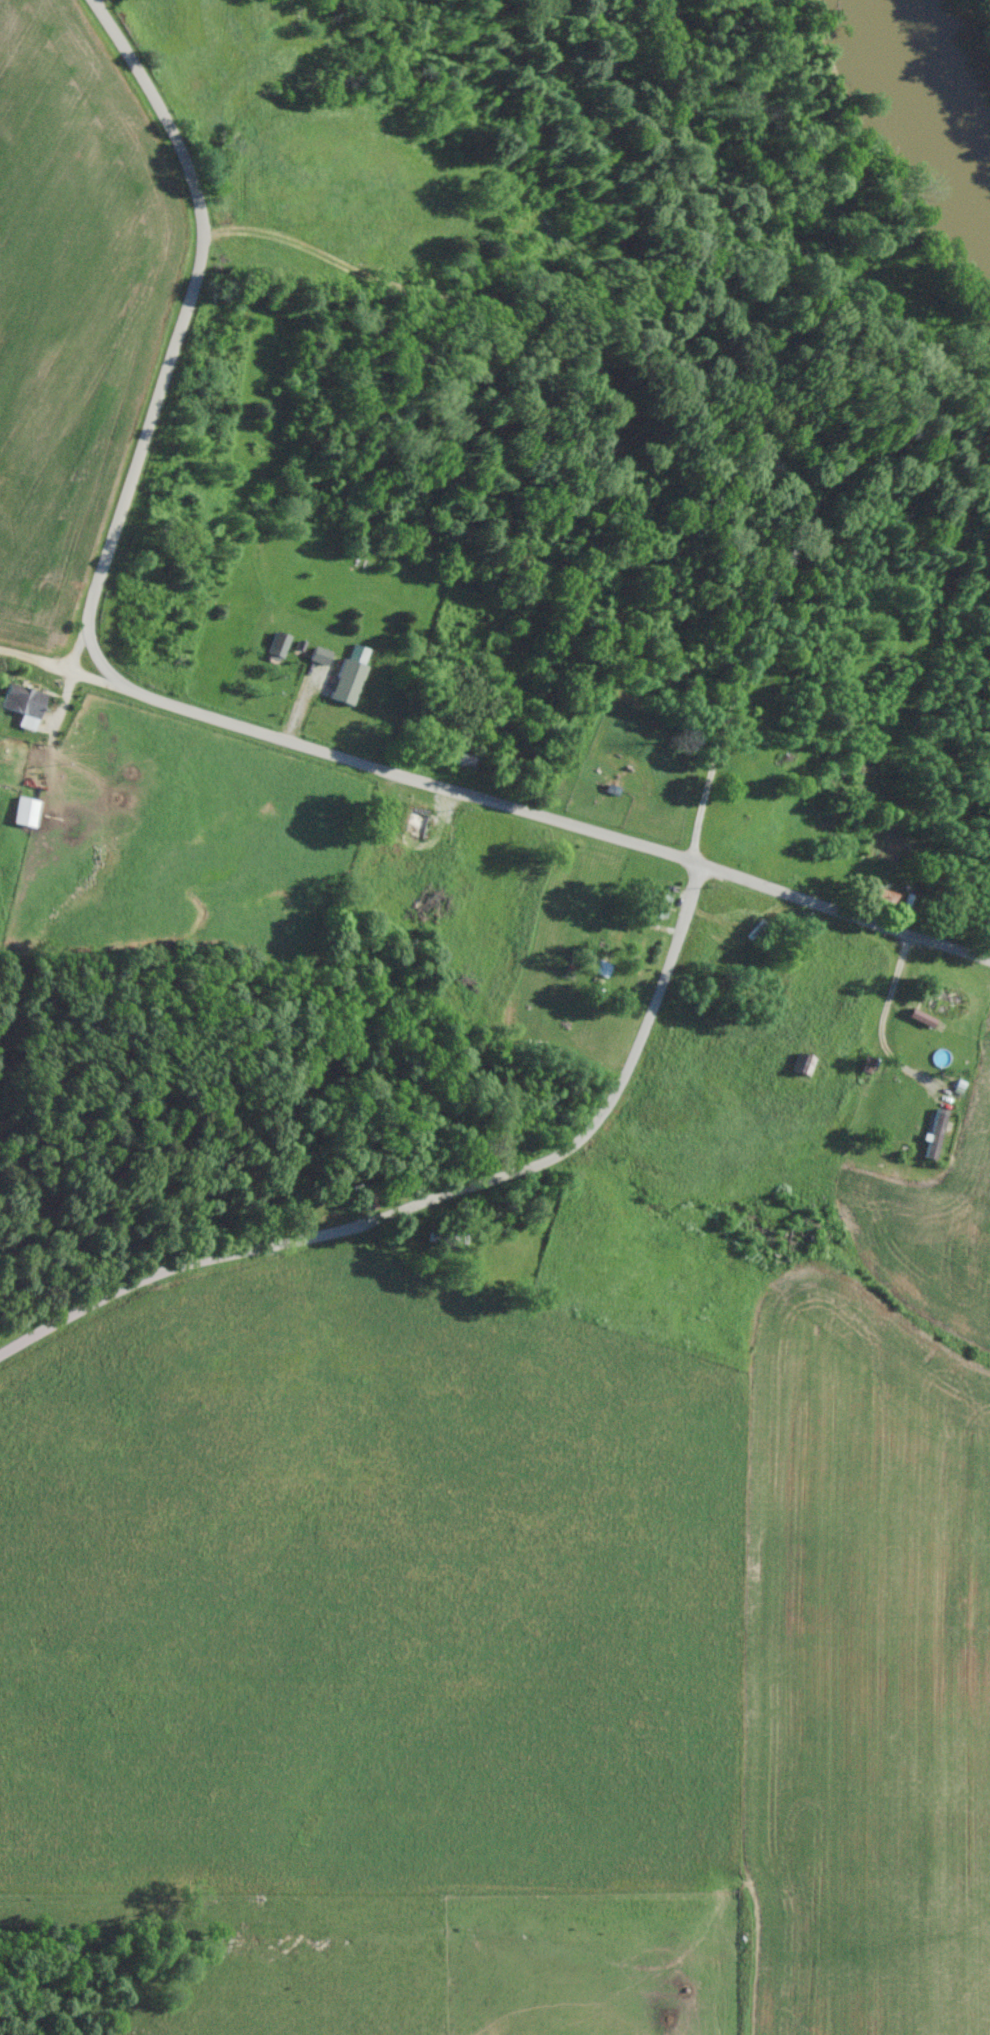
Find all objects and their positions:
river: (944, 91)
road: (155, 603)
road: (794, 607)
building: (277, 646)
building: (347, 681)
building: (25, 699)
building: (465, 759)
building: (28, 802)
building: (418, 820)
building: (656, 902)
road: (850, 907)
building: (578, 932)
building: (601, 967)
building: (924, 1017)
building: (935, 1132)
road: (445, 1204)

